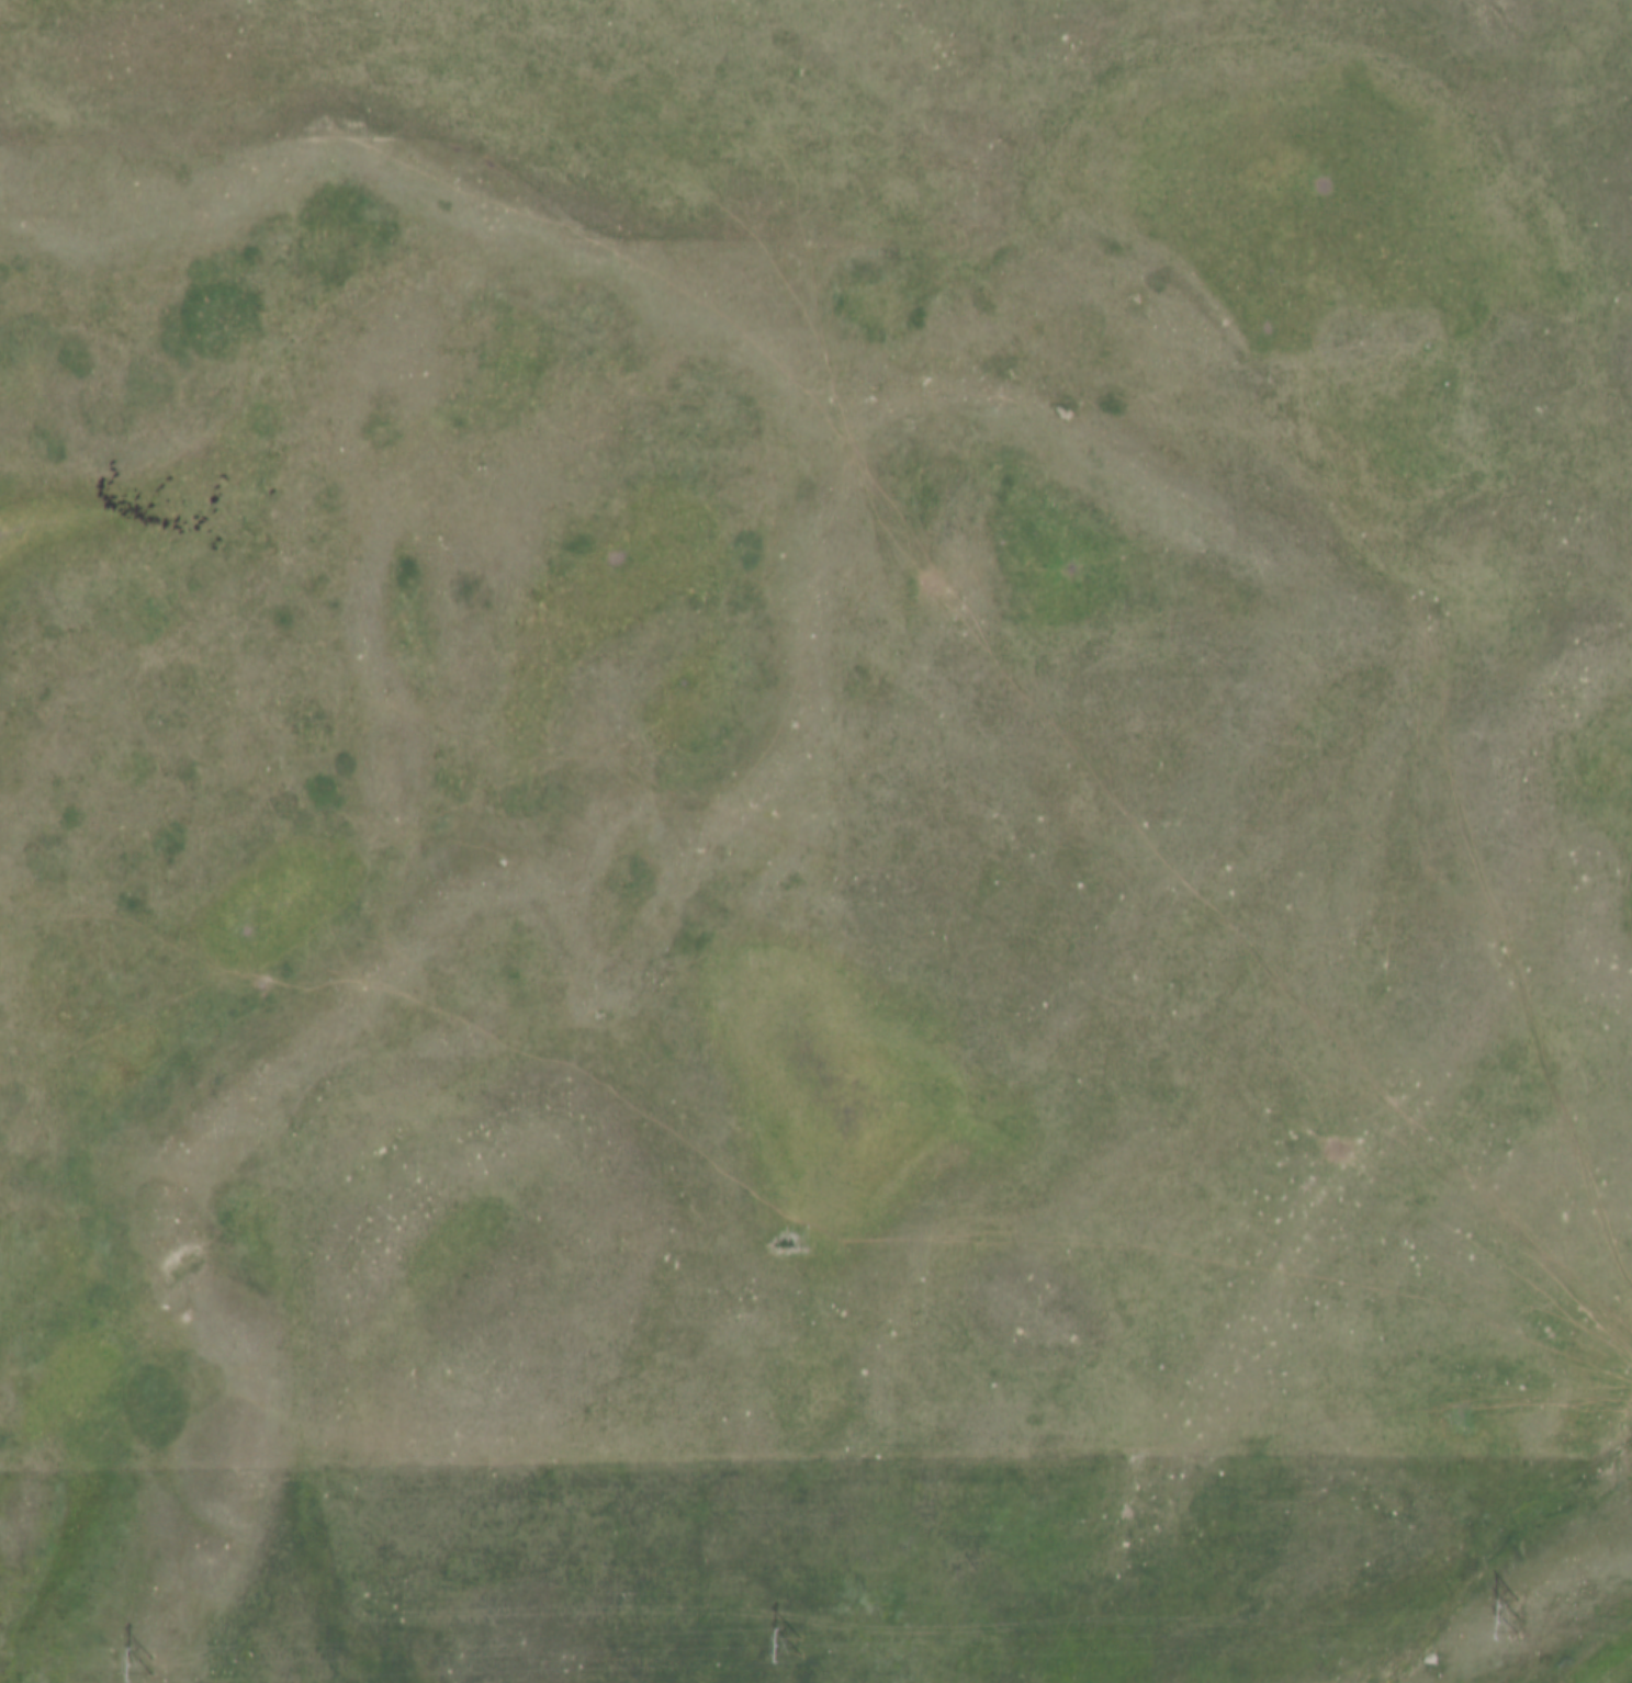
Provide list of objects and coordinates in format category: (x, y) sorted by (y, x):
power tower: (1516, 1619)
power tower: (799, 1647)
power tower: (148, 1664)

